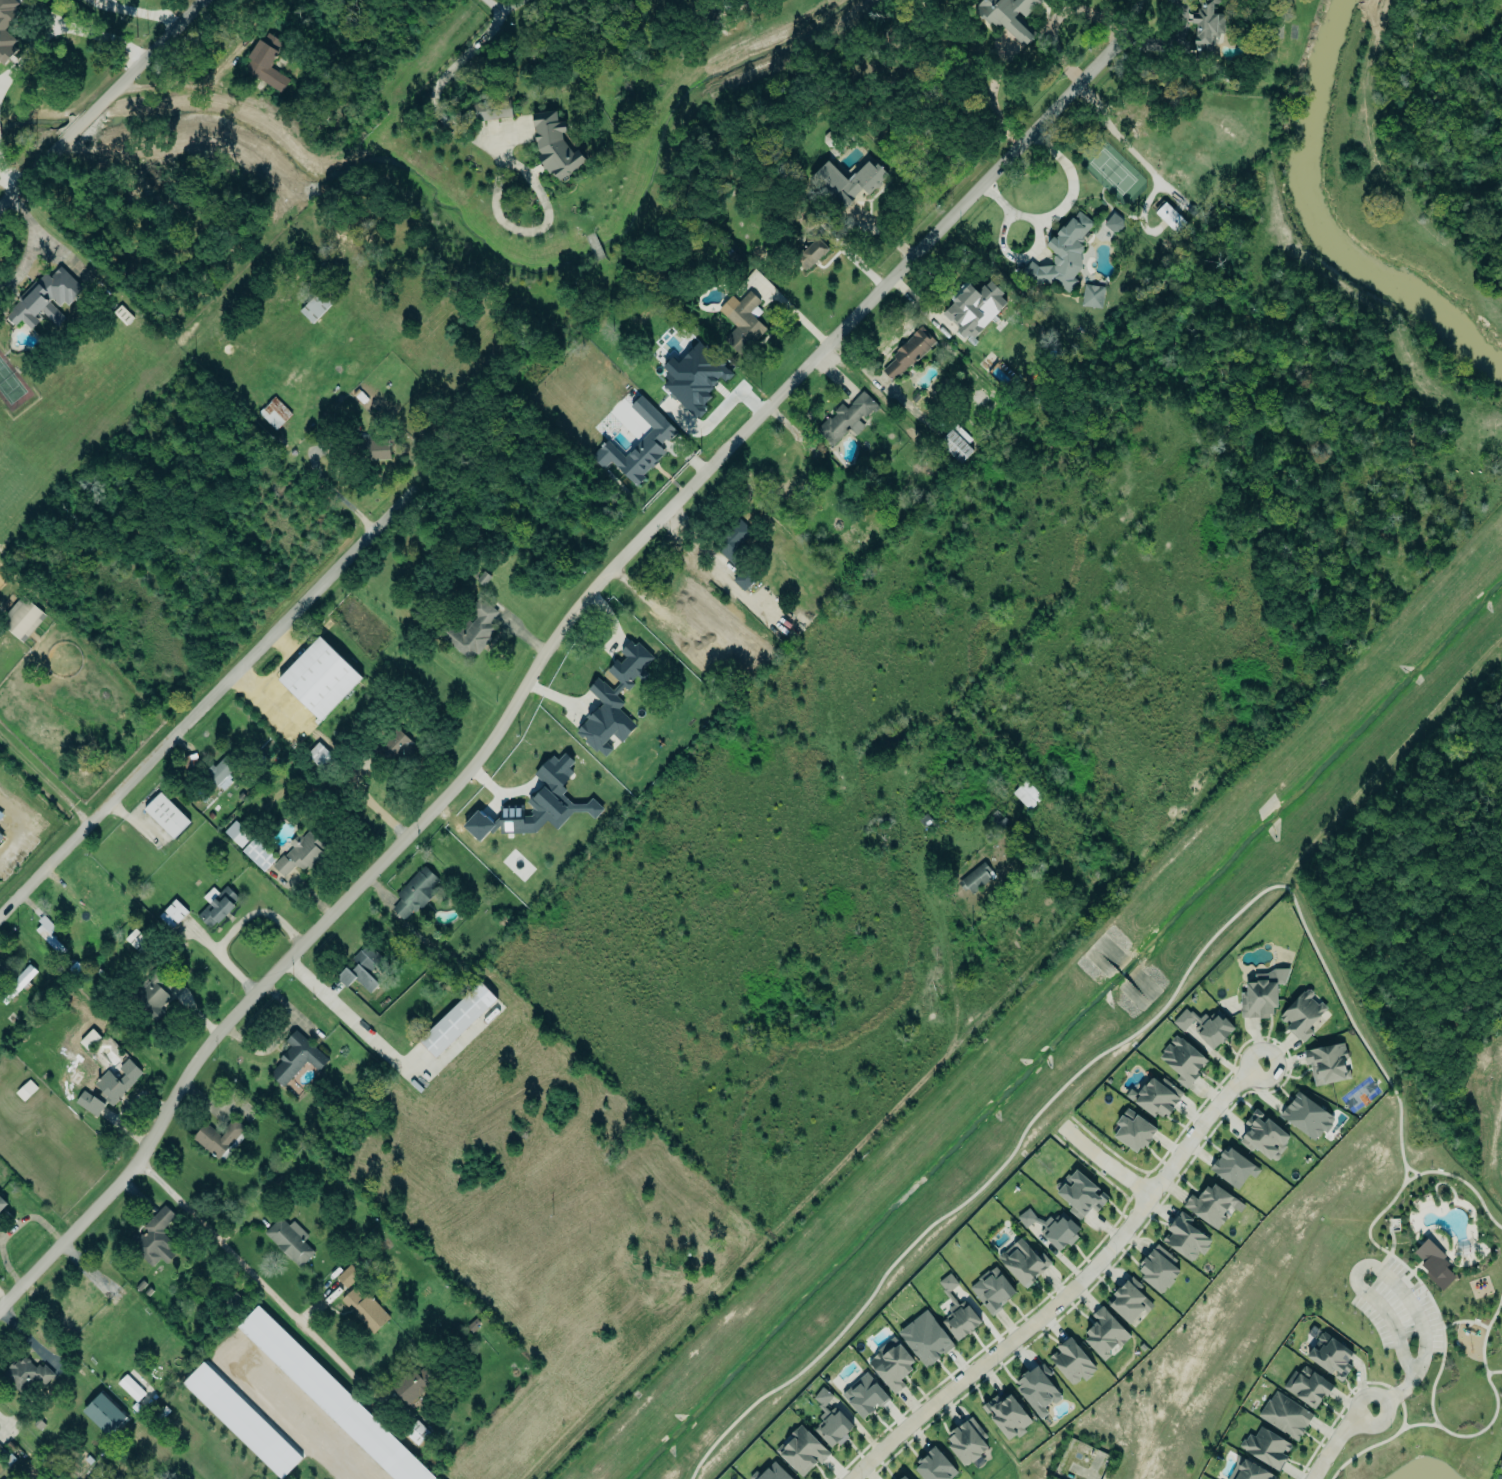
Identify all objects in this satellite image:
road: (136, 10)
road: (501, 15)
building: (1009, 16)
road: (1129, 17)
building: (1207, 27)
building: (5, 36)
road: (104, 36)
road: (24, 53)
building: (268, 62)
road: (991, 97)
road: (102, 101)
building: (492, 109)
road: (1117, 136)
building: (554, 145)
road: (493, 162)
building: (847, 181)
road: (4, 182)
road: (1061, 207)
building: (1169, 215)
building: (1114, 223)
river: (1326, 226)
road: (35, 242)
building: (1064, 252)
building: (812, 253)
building: (1092, 296)
building: (44, 299)
building: (318, 303)
building: (974, 307)
road: (798, 310)
building: (743, 321)
building: (907, 354)
building: (274, 413)
building: (846, 416)
building: (956, 443)
building: (370, 448)
building: (627, 459)
road: (329, 488)
building: (733, 540)
building: (743, 578)
building: (22, 618)
building: (471, 630)
road: (543, 662)
building: (319, 678)
building: (613, 700)
road: (204, 707)
building: (399, 745)
building: (319, 755)
building: (222, 770)
road: (46, 777)
building: (1027, 794)
building: (538, 804)
building: (166, 814)
building: (0, 815)
road: (133, 821)
building: (237, 833)
building: (1, 834)
road: (8, 847)
building: (258, 854)
building: (300, 854)
building: (977, 877)
building: (414, 893)
building: (217, 903)
building: (172, 913)
road: (232, 929)
building: (47, 933)
building: (136, 940)
building: (364, 968)
building: (17, 983)
building: (1263, 992)
building: (152, 994)
building: (1304, 1012)
road: (344, 1015)
building: (457, 1019)
building: (1216, 1029)
building: (295, 1057)
building: (1183, 1060)
building: (1329, 1062)
building: (117, 1081)
building: (1157, 1096)
building: (89, 1103)
road: (124, 1108)
building: (1308, 1115)
building: (1134, 1129)
building: (1263, 1134)
building: (218, 1137)
road: (1103, 1159)
building: (1233, 1167)
building: (1080, 1192)
building: (2, 1202)
building: (1211, 1203)
road: (807, 1209)
building: (1054, 1226)
building: (1185, 1237)
building: (153, 1238)
building: (291, 1239)
building: (1025, 1261)
building: (1433, 1262)
building: (1159, 1267)
building: (348, 1275)
road: (1389, 1276)
road: (258, 1281)
road: (1068, 1285)
building: (992, 1289)
building: (1131, 1299)
building: (233, 1302)
building: (365, 1309)
building: (957, 1311)
building: (1106, 1333)
building: (926, 1338)
building: (1330, 1355)
building: (1073, 1360)
building: (891, 1364)
building: (27, 1374)
building: (414, 1383)
building: (1307, 1386)
building: (130, 1387)
building: (1037, 1389)
building: (865, 1394)
building: (331, 1397)
building: (104, 1414)
building: (1285, 1414)
building: (1007, 1415)
road: (293, 1417)
building: (242, 1420)
building: (832, 1420)
road: (6, 1423)
road: (1337, 1436)
building: (968, 1440)
building: (1268, 1446)
building: (802, 1448)
building: (1, 1449)
building: (1501, 1464)
building: (934, 1466)
building: (1249, 1470)
building: (771, 1472)
building: (903, 1477)

